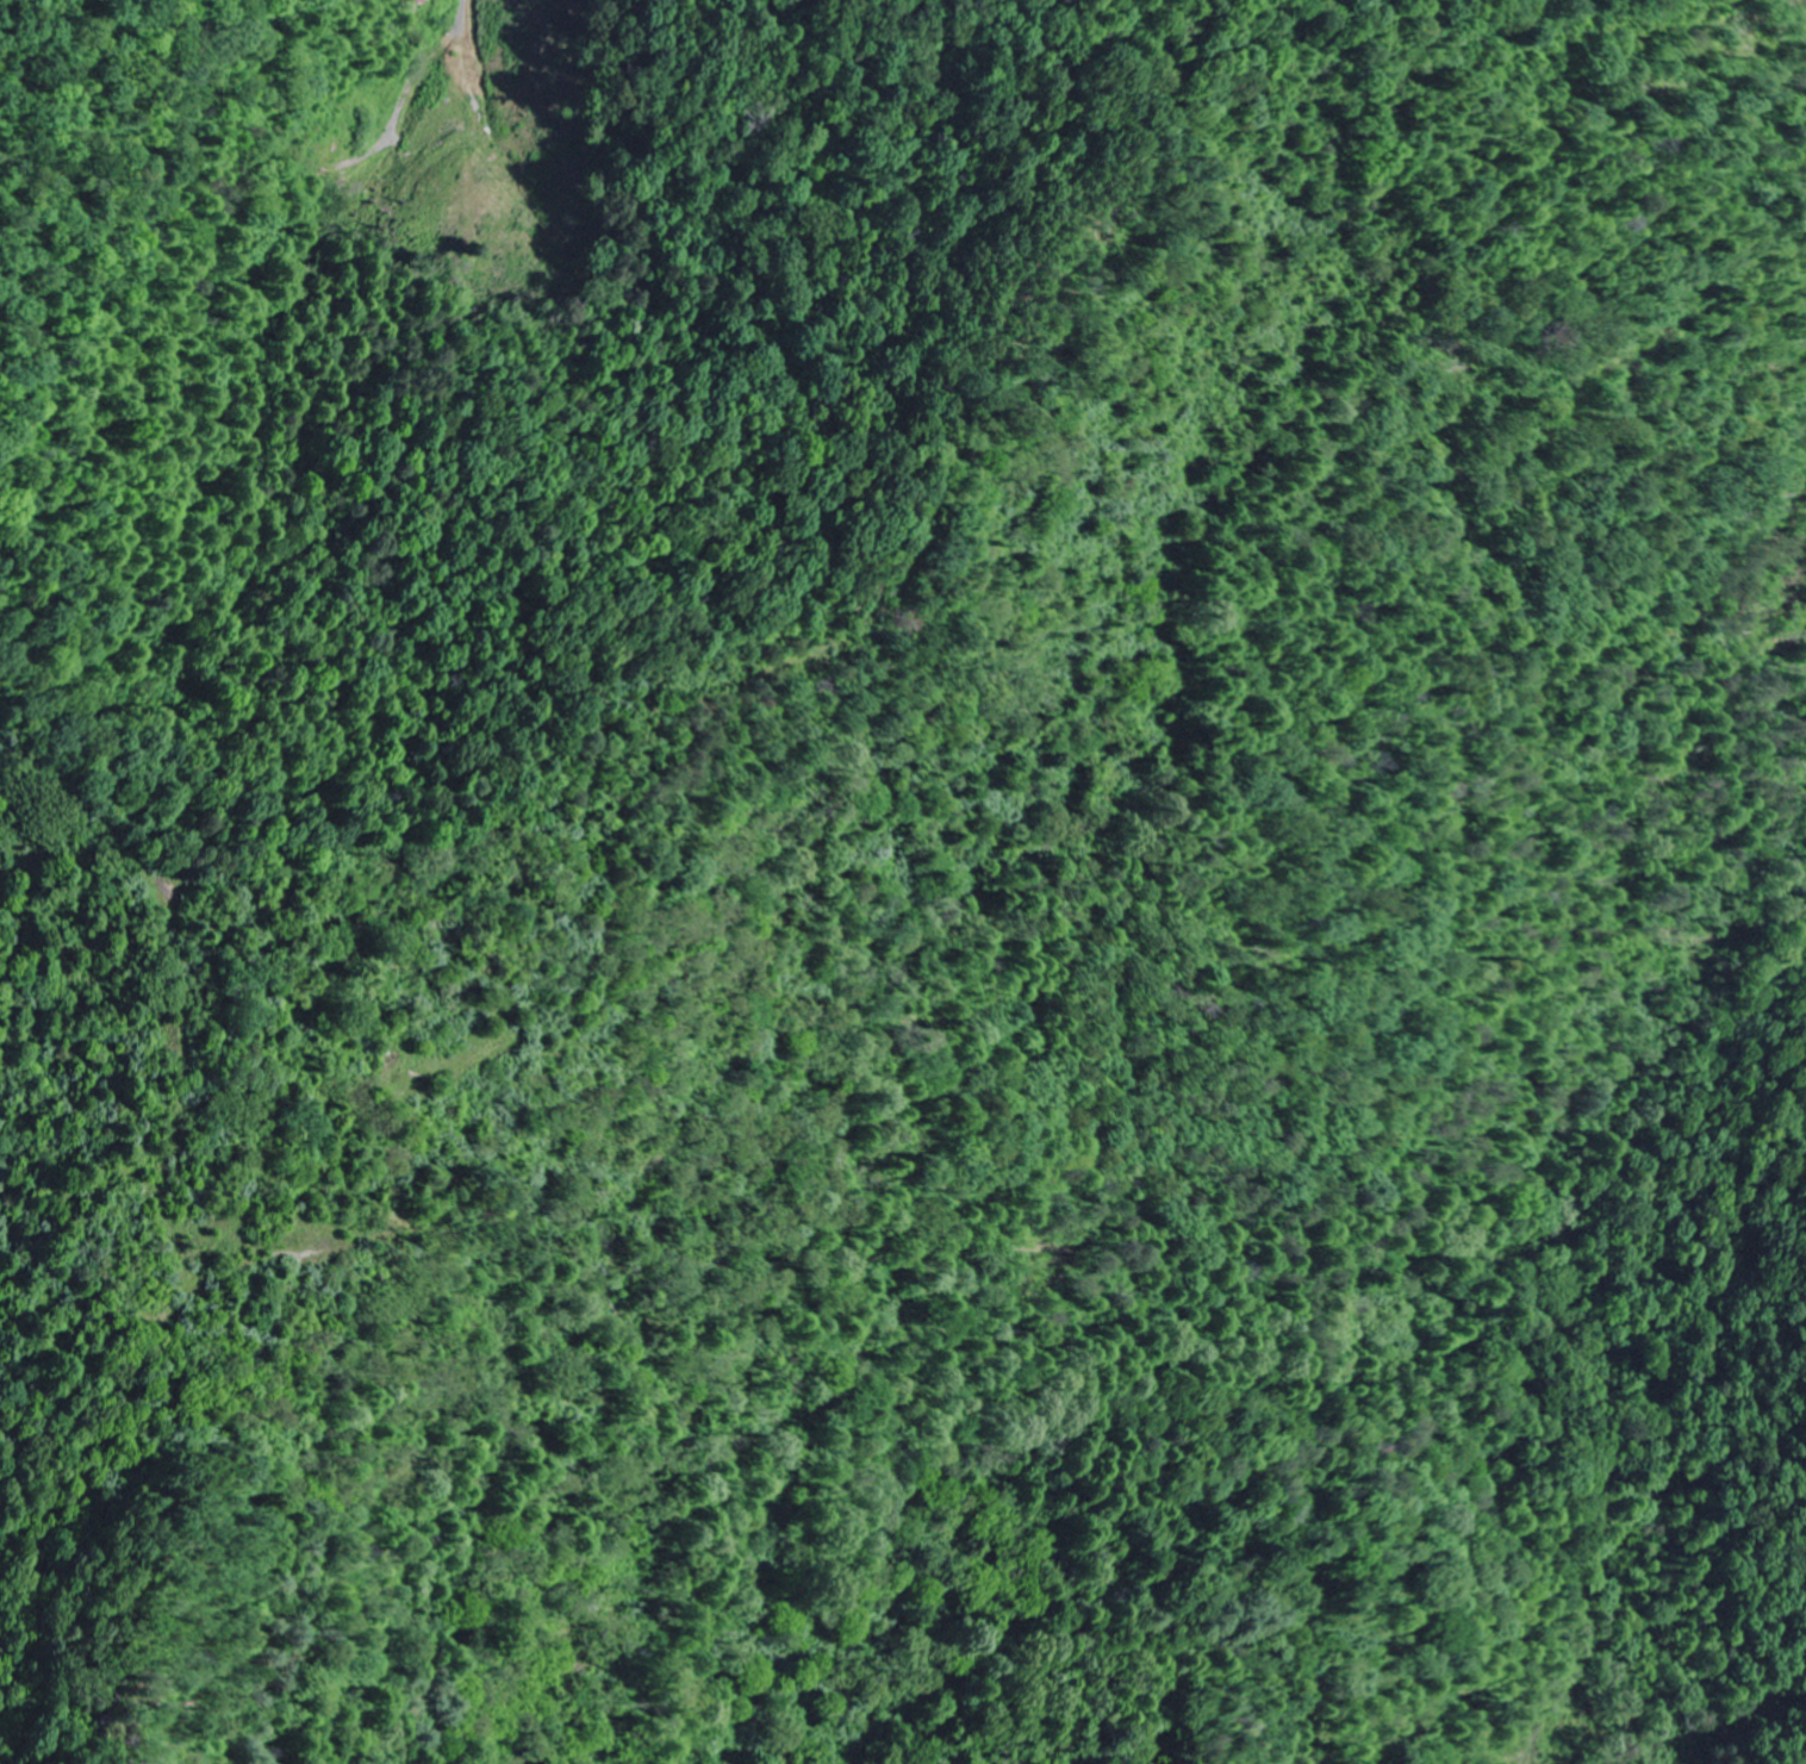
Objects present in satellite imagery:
road: (465, 11)

